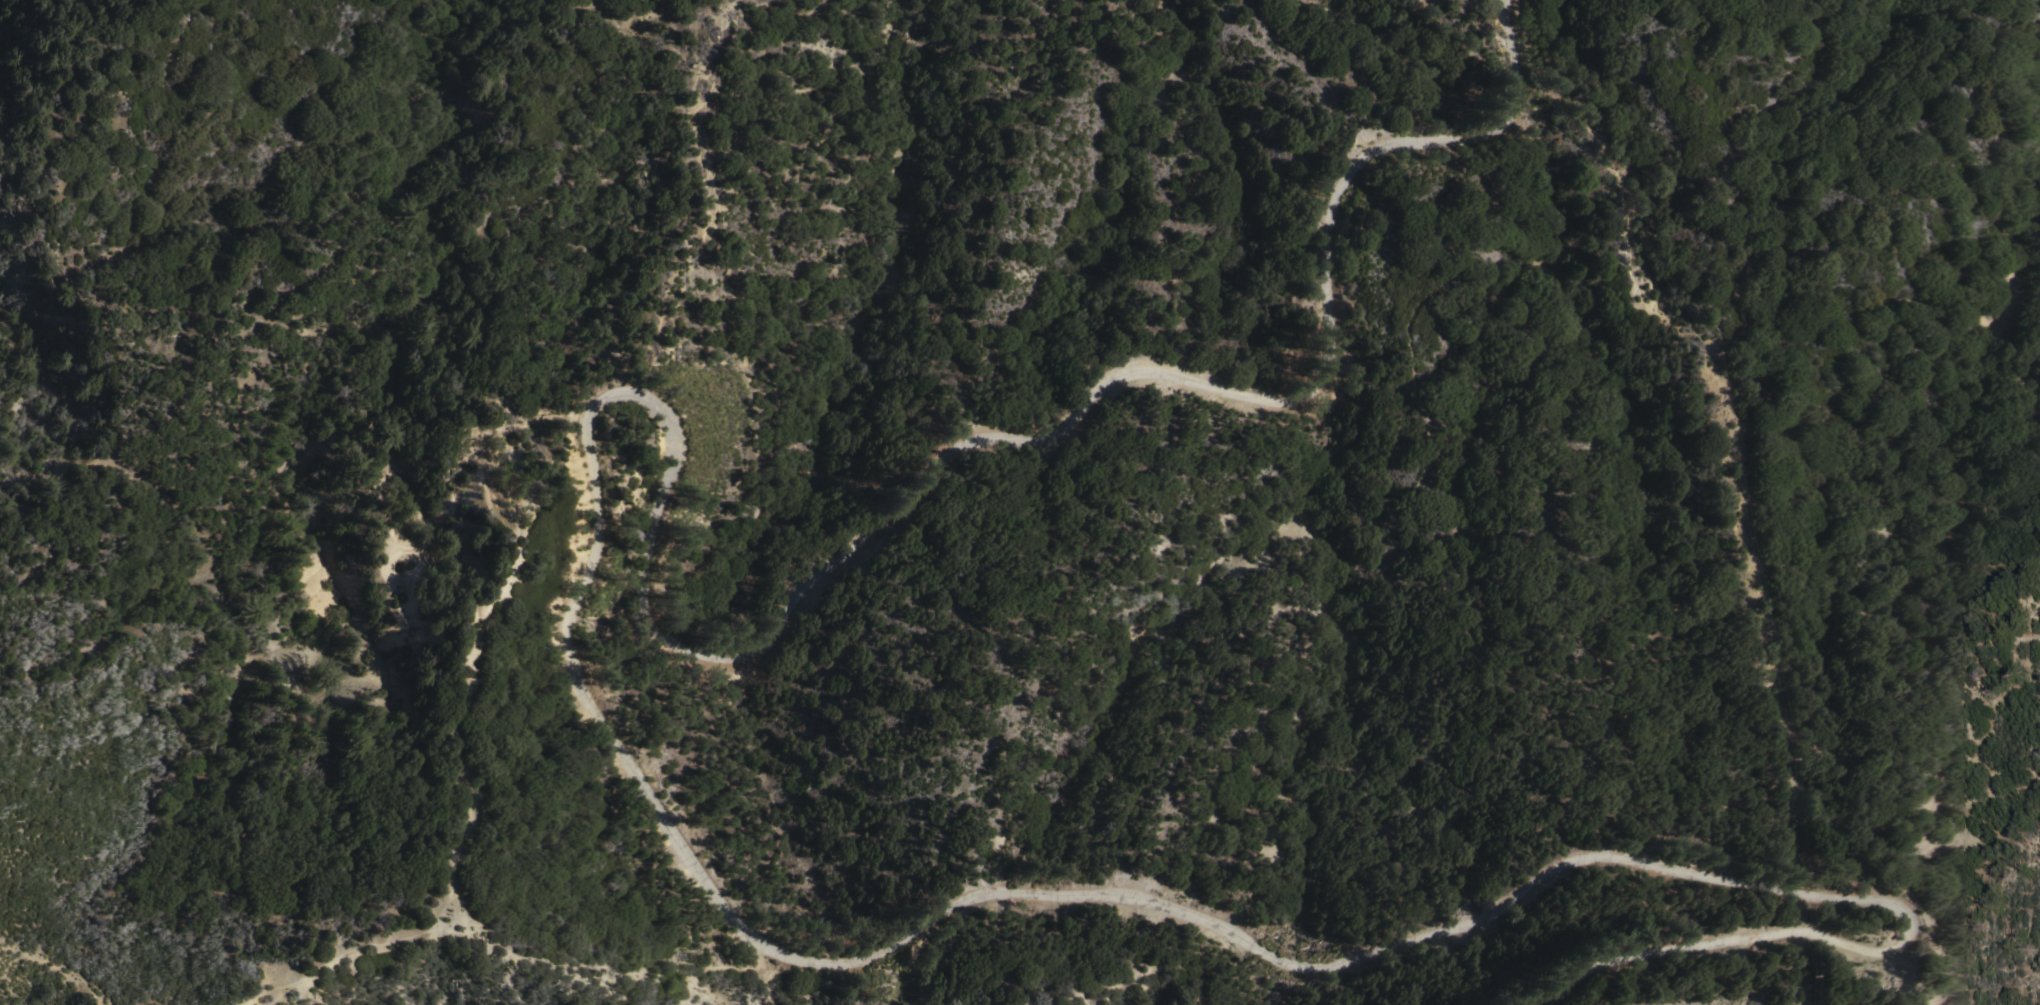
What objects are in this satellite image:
road: (1492, 602)
road: (601, 716)
road: (463, 920)
road: (52, 971)
road: (1893, 1003)

